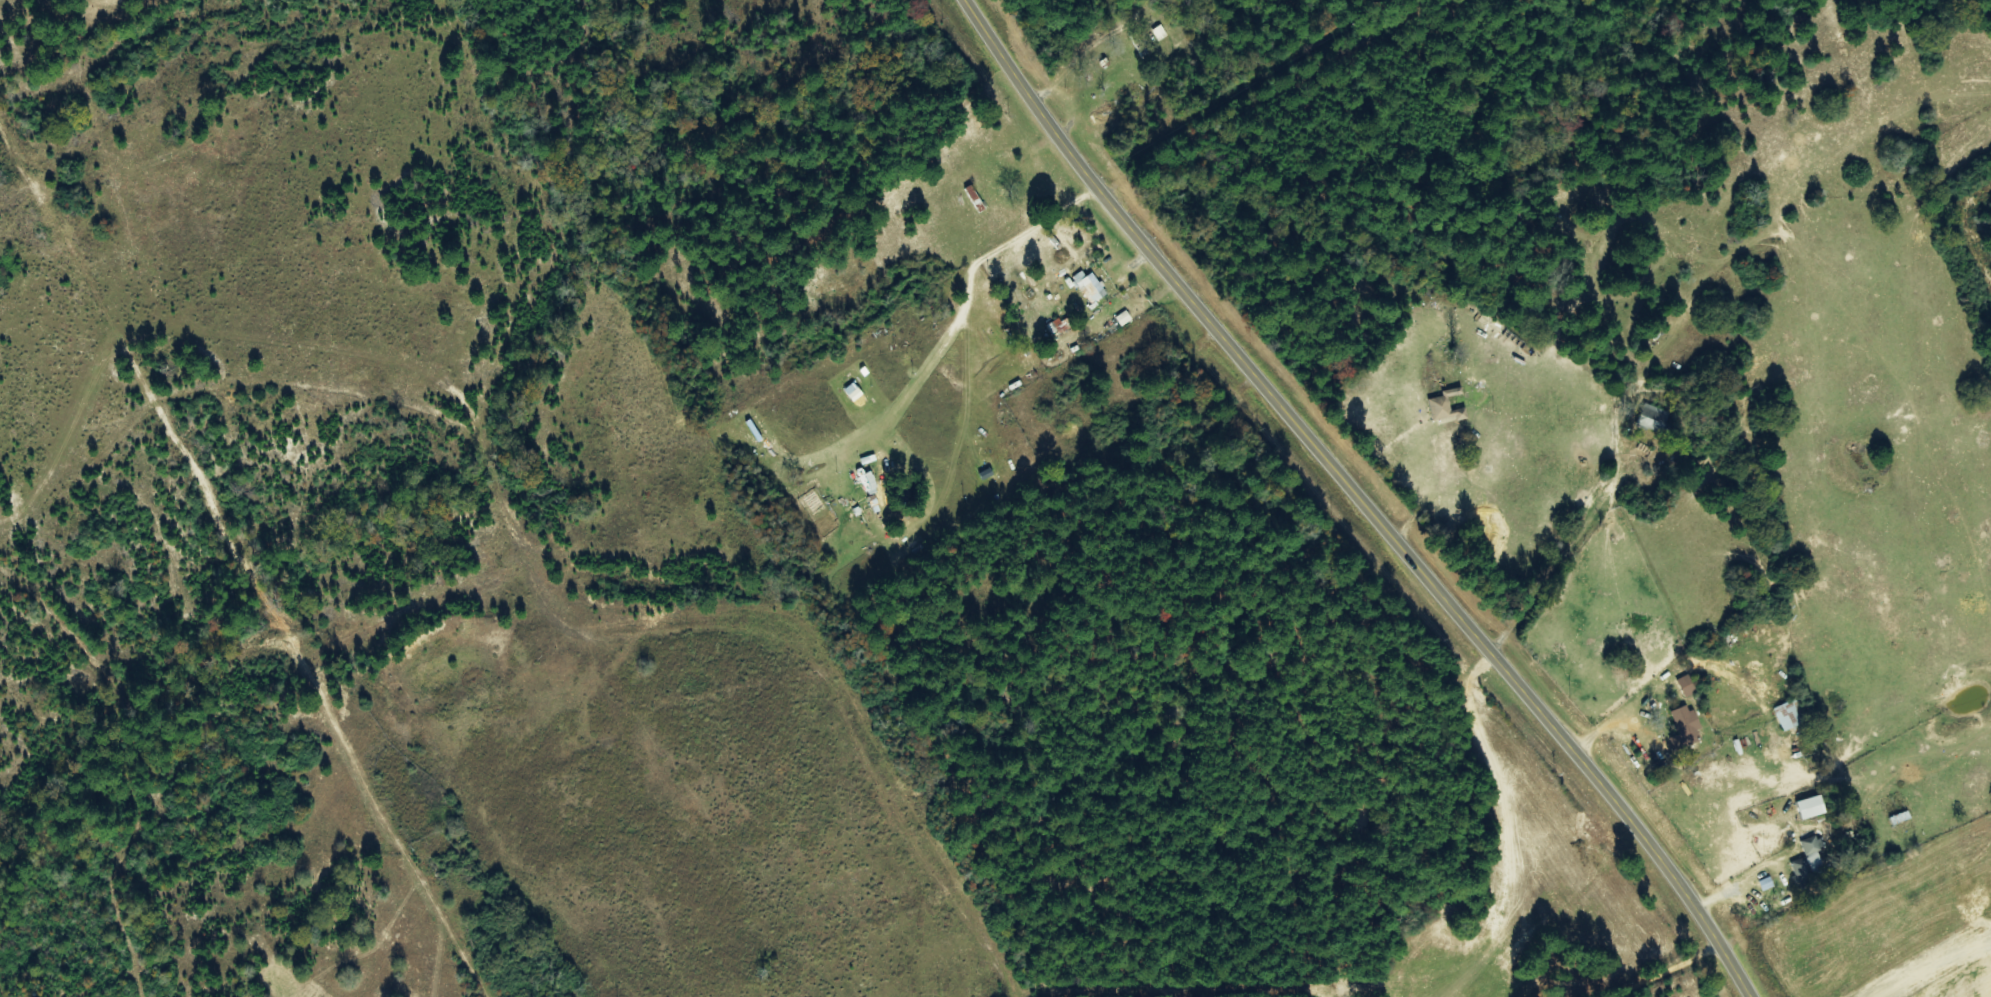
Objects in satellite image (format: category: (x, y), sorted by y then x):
building: (1159, 33)
building: (1102, 116)
building: (1090, 286)
building: (1124, 318)
building: (1440, 408)
building: (1653, 418)
building: (987, 474)
road: (1358, 498)
building: (1687, 685)
building: (1788, 716)
building: (1685, 727)
building: (1812, 807)
building: (1809, 862)
road: (512, 948)
road: (1680, 973)

